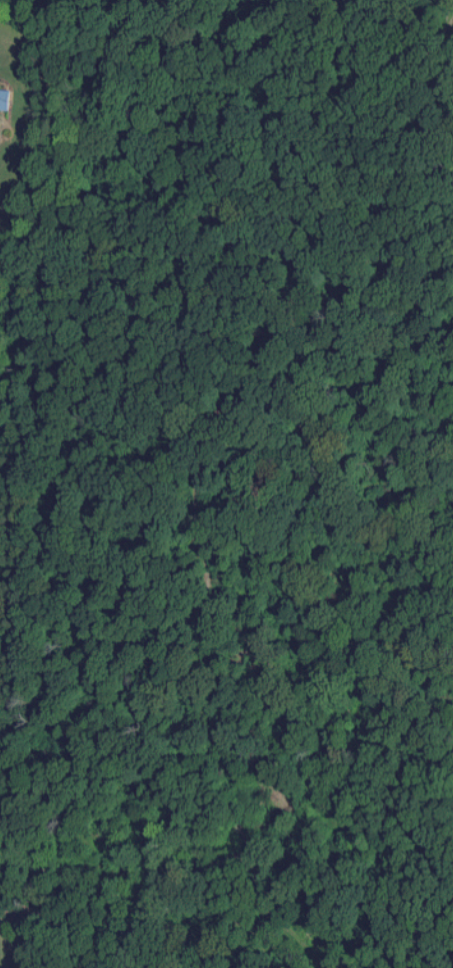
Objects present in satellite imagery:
building: (6, 99)

